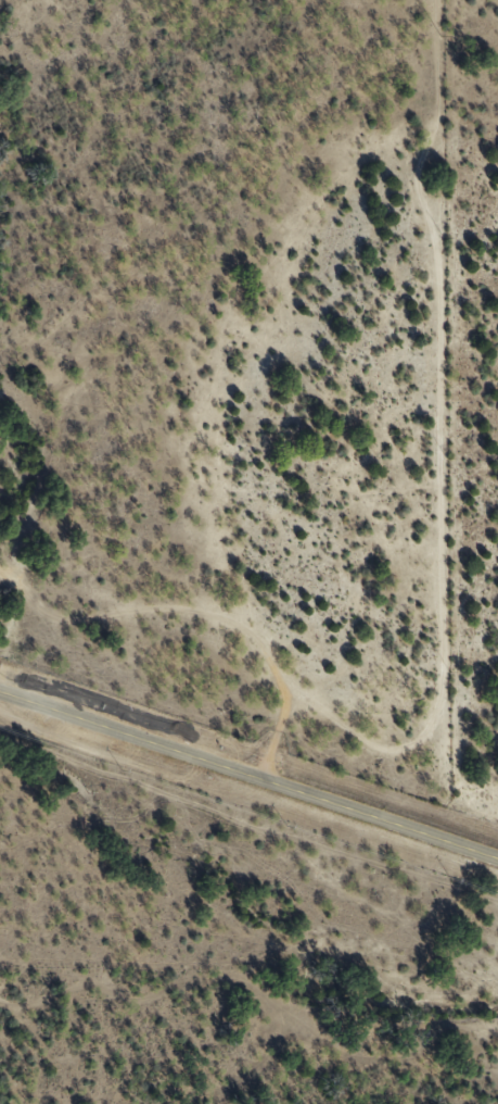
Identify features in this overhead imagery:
road: (209, 628)
road: (248, 769)
road: (412, 769)

